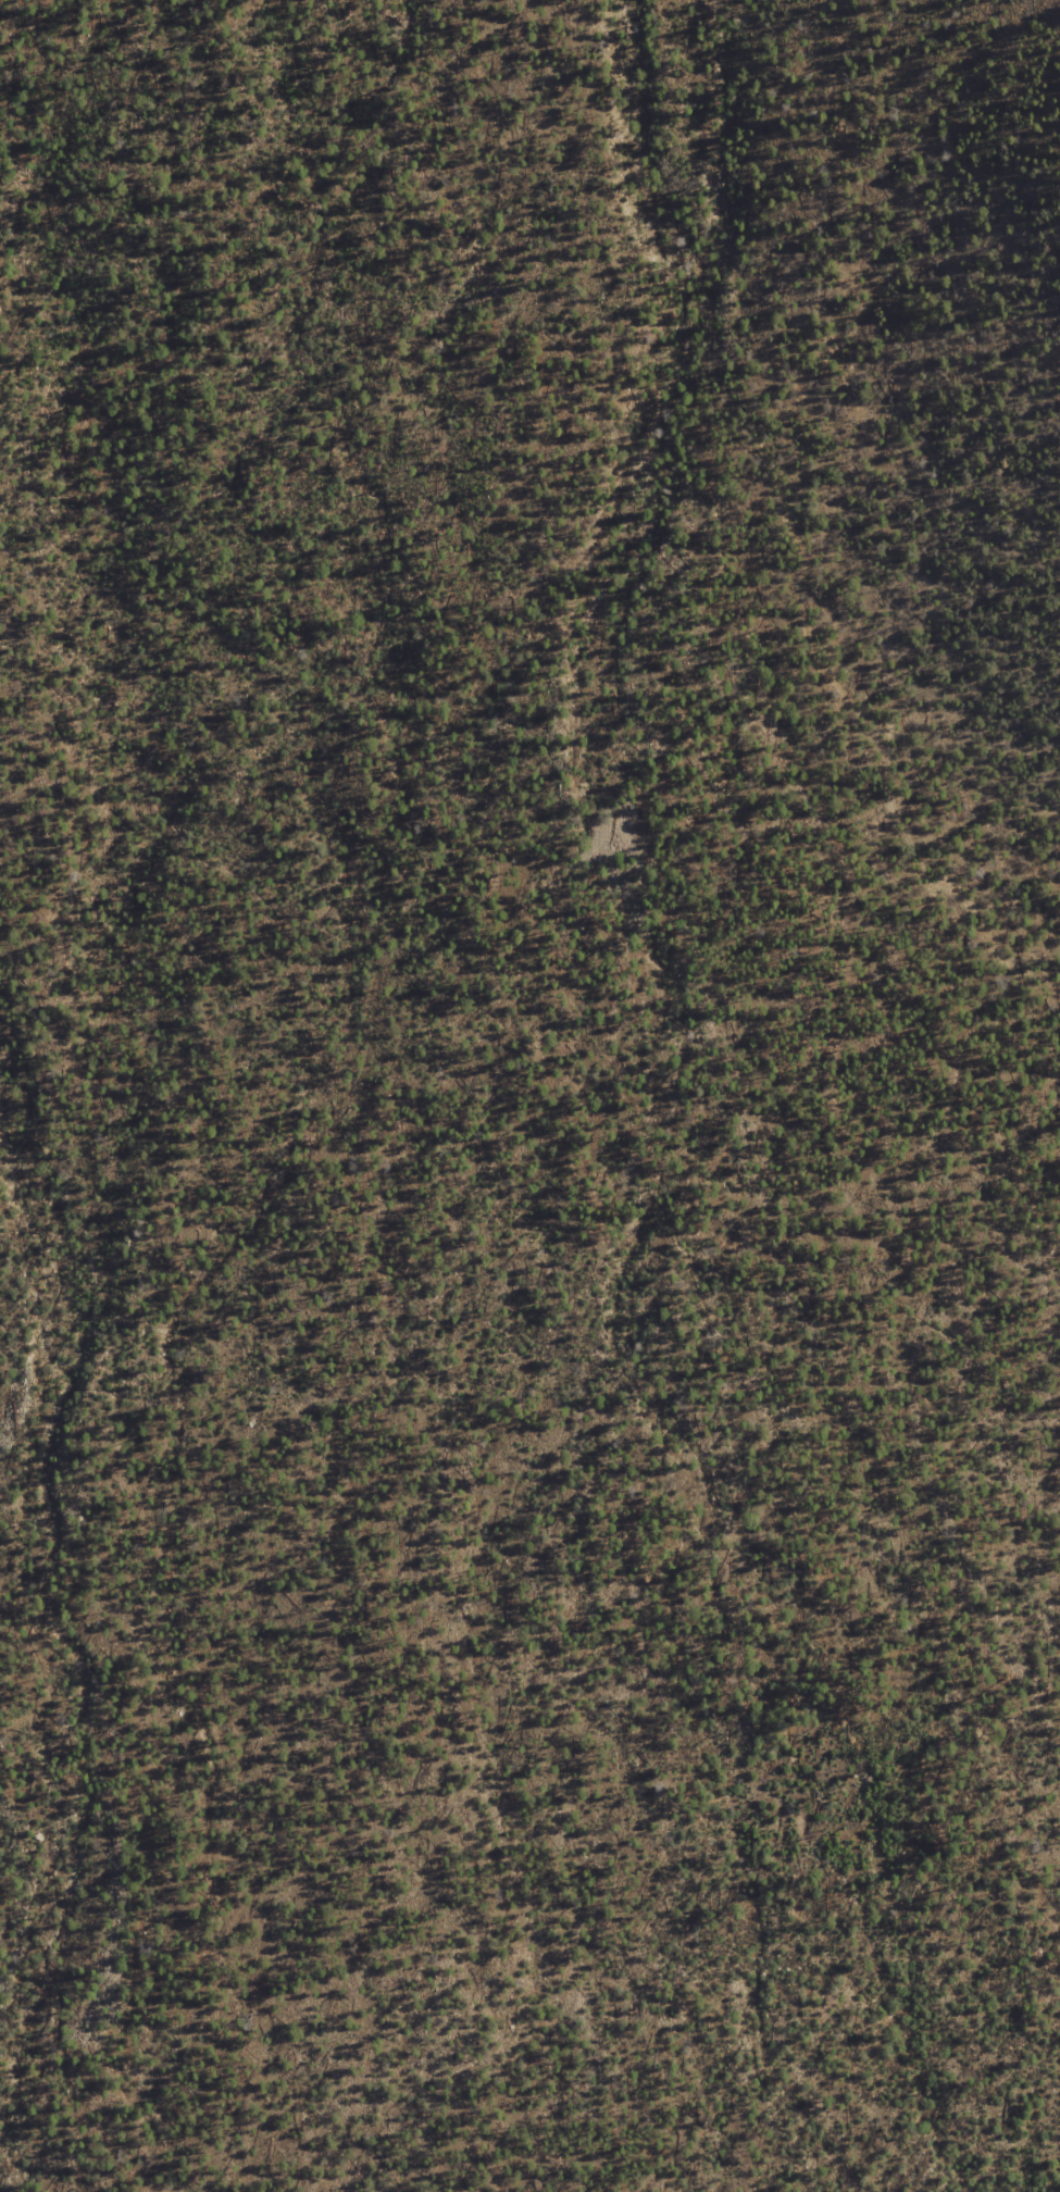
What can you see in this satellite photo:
road: (620, 1008)

